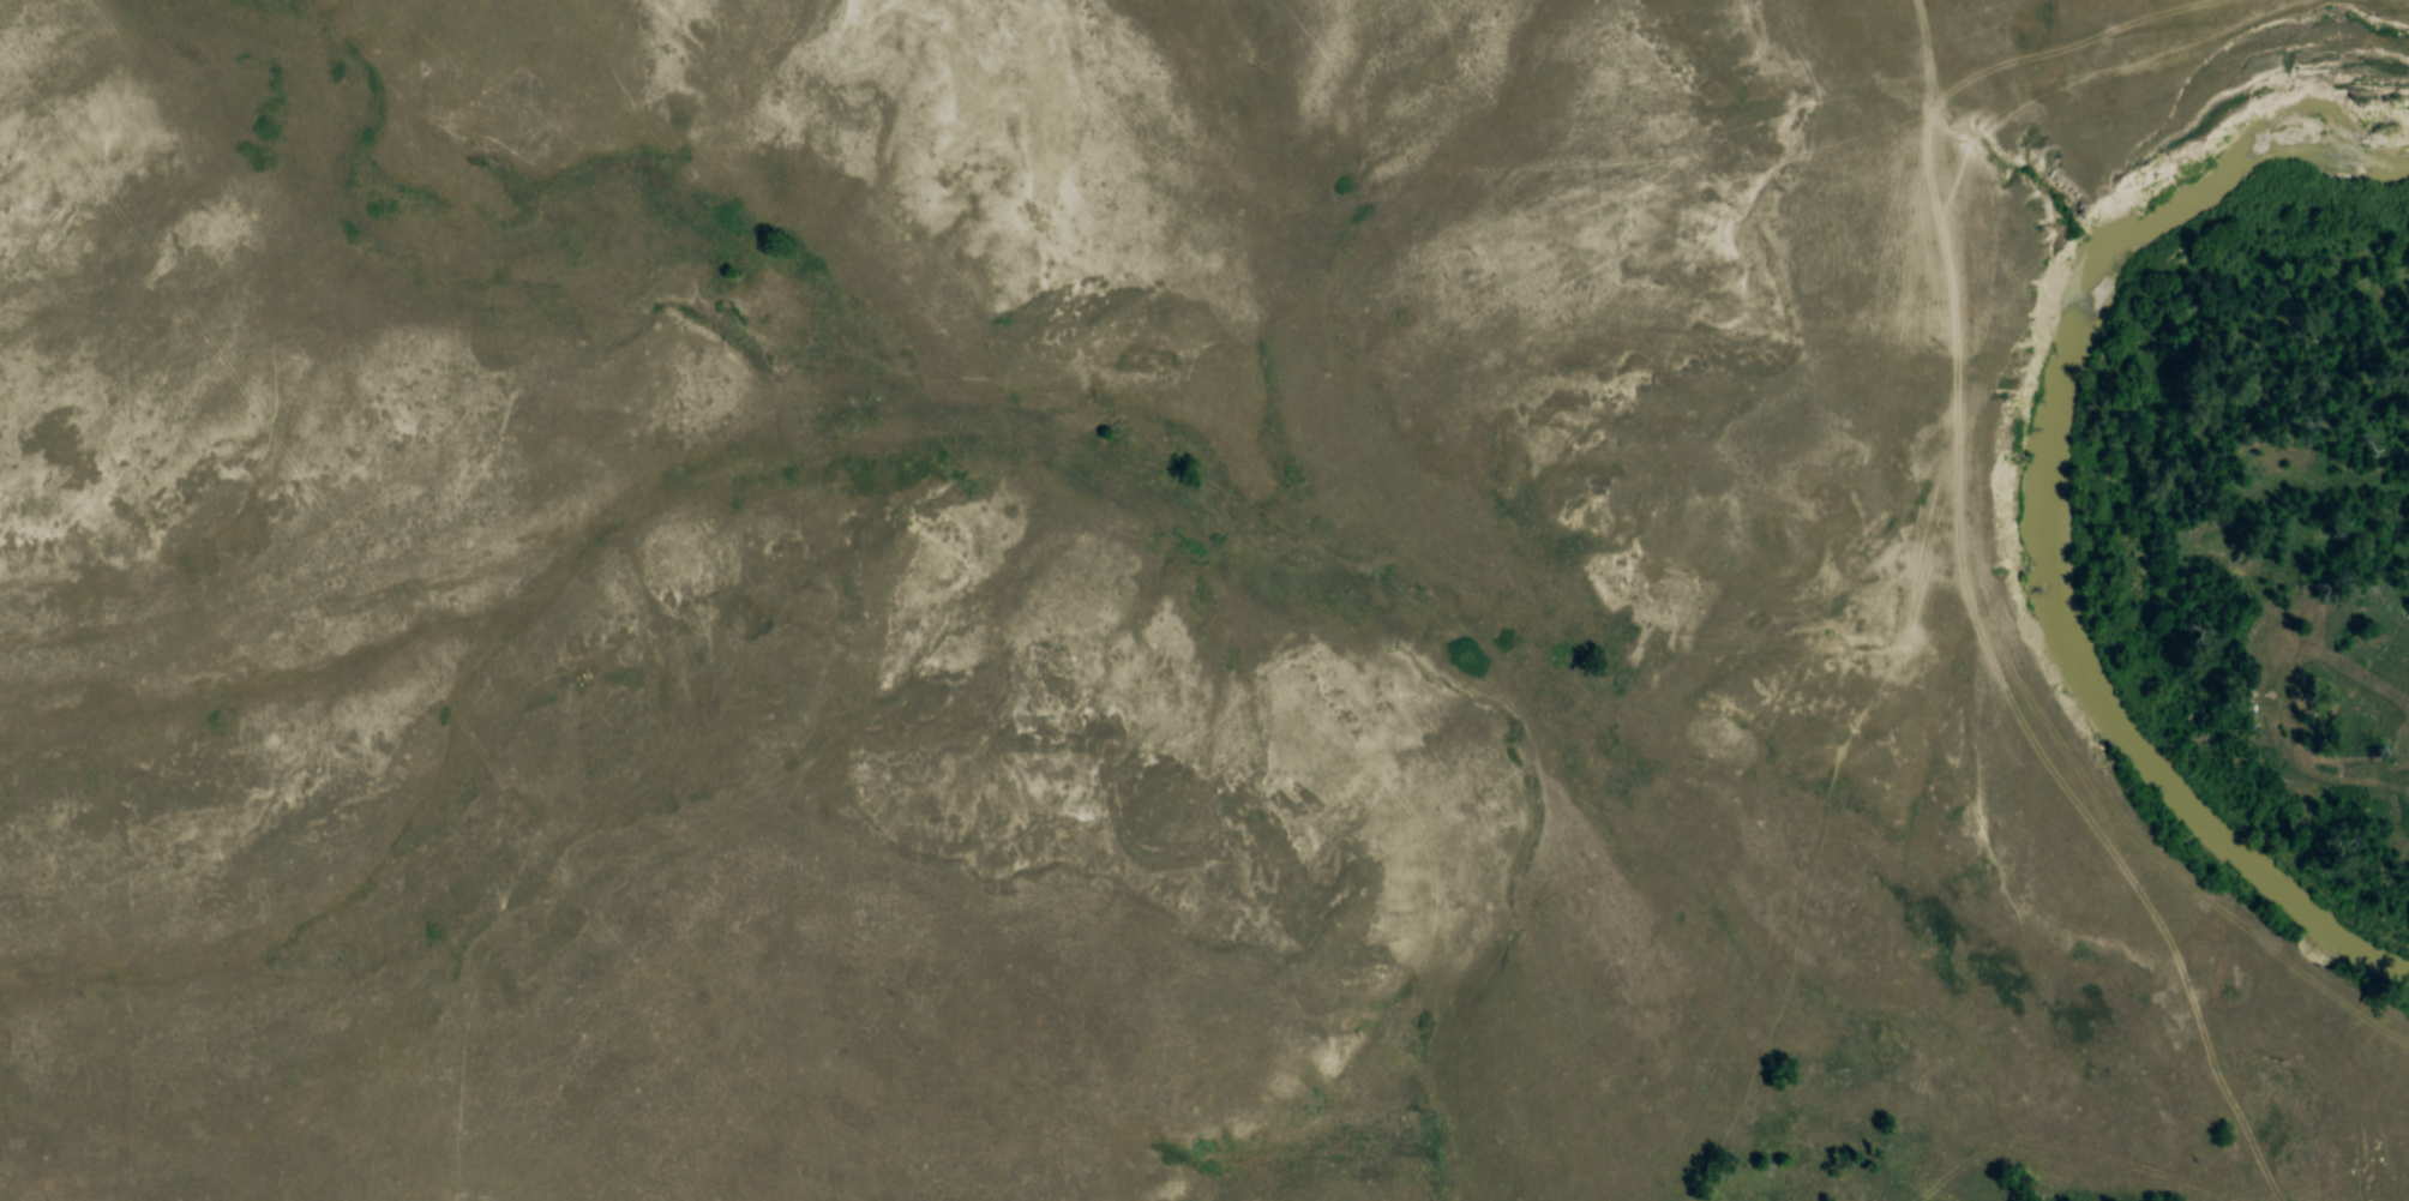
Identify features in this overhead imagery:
river: (2056, 517)

